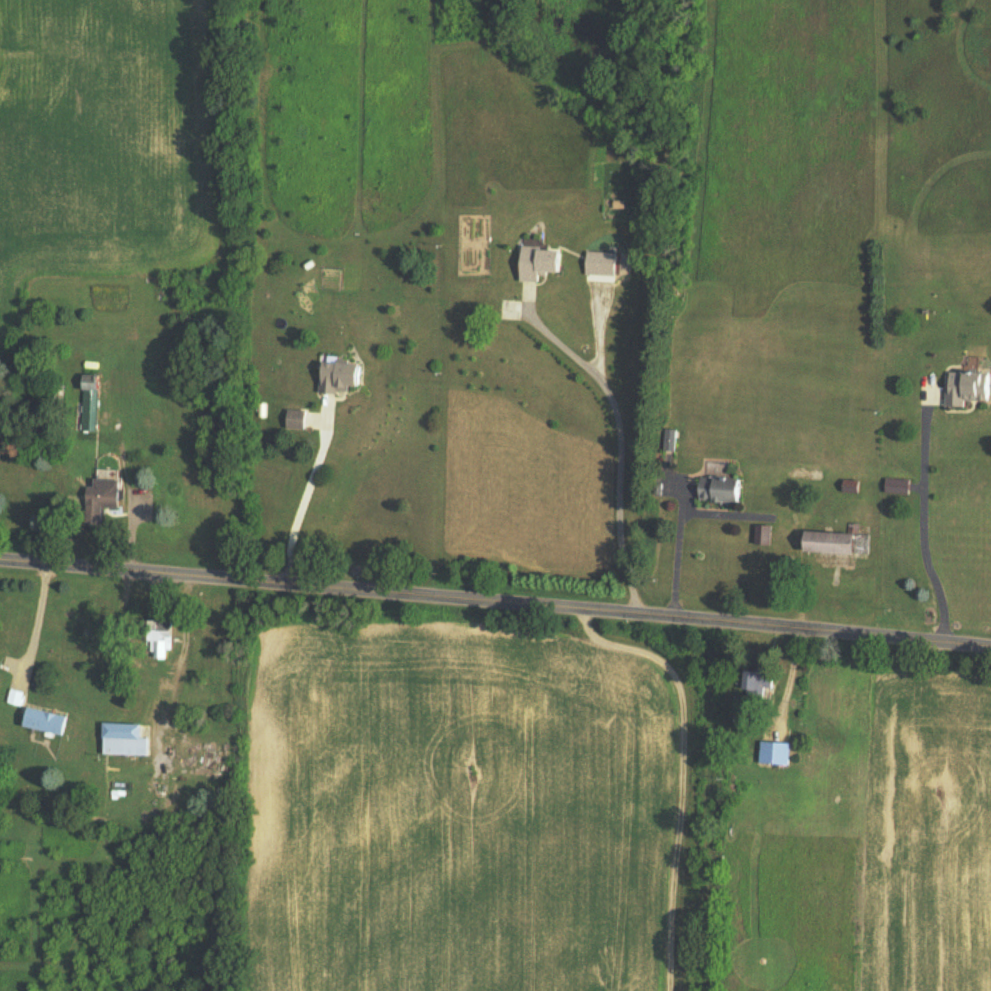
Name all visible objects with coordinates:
building: (542, 263)
building: (602, 264)
building: (340, 376)
building: (967, 387)
building: (56, 393)
building: (91, 402)
building: (296, 419)
building: (669, 442)
road: (620, 447)
building: (896, 485)
building: (721, 490)
building: (102, 499)
road: (301, 502)
road: (920, 526)
building: (764, 535)
building: (833, 542)
road: (675, 560)
road: (495, 605)
road: (40, 625)
building: (160, 639)
building: (13, 658)
building: (758, 684)
building: (780, 737)
building: (127, 739)

